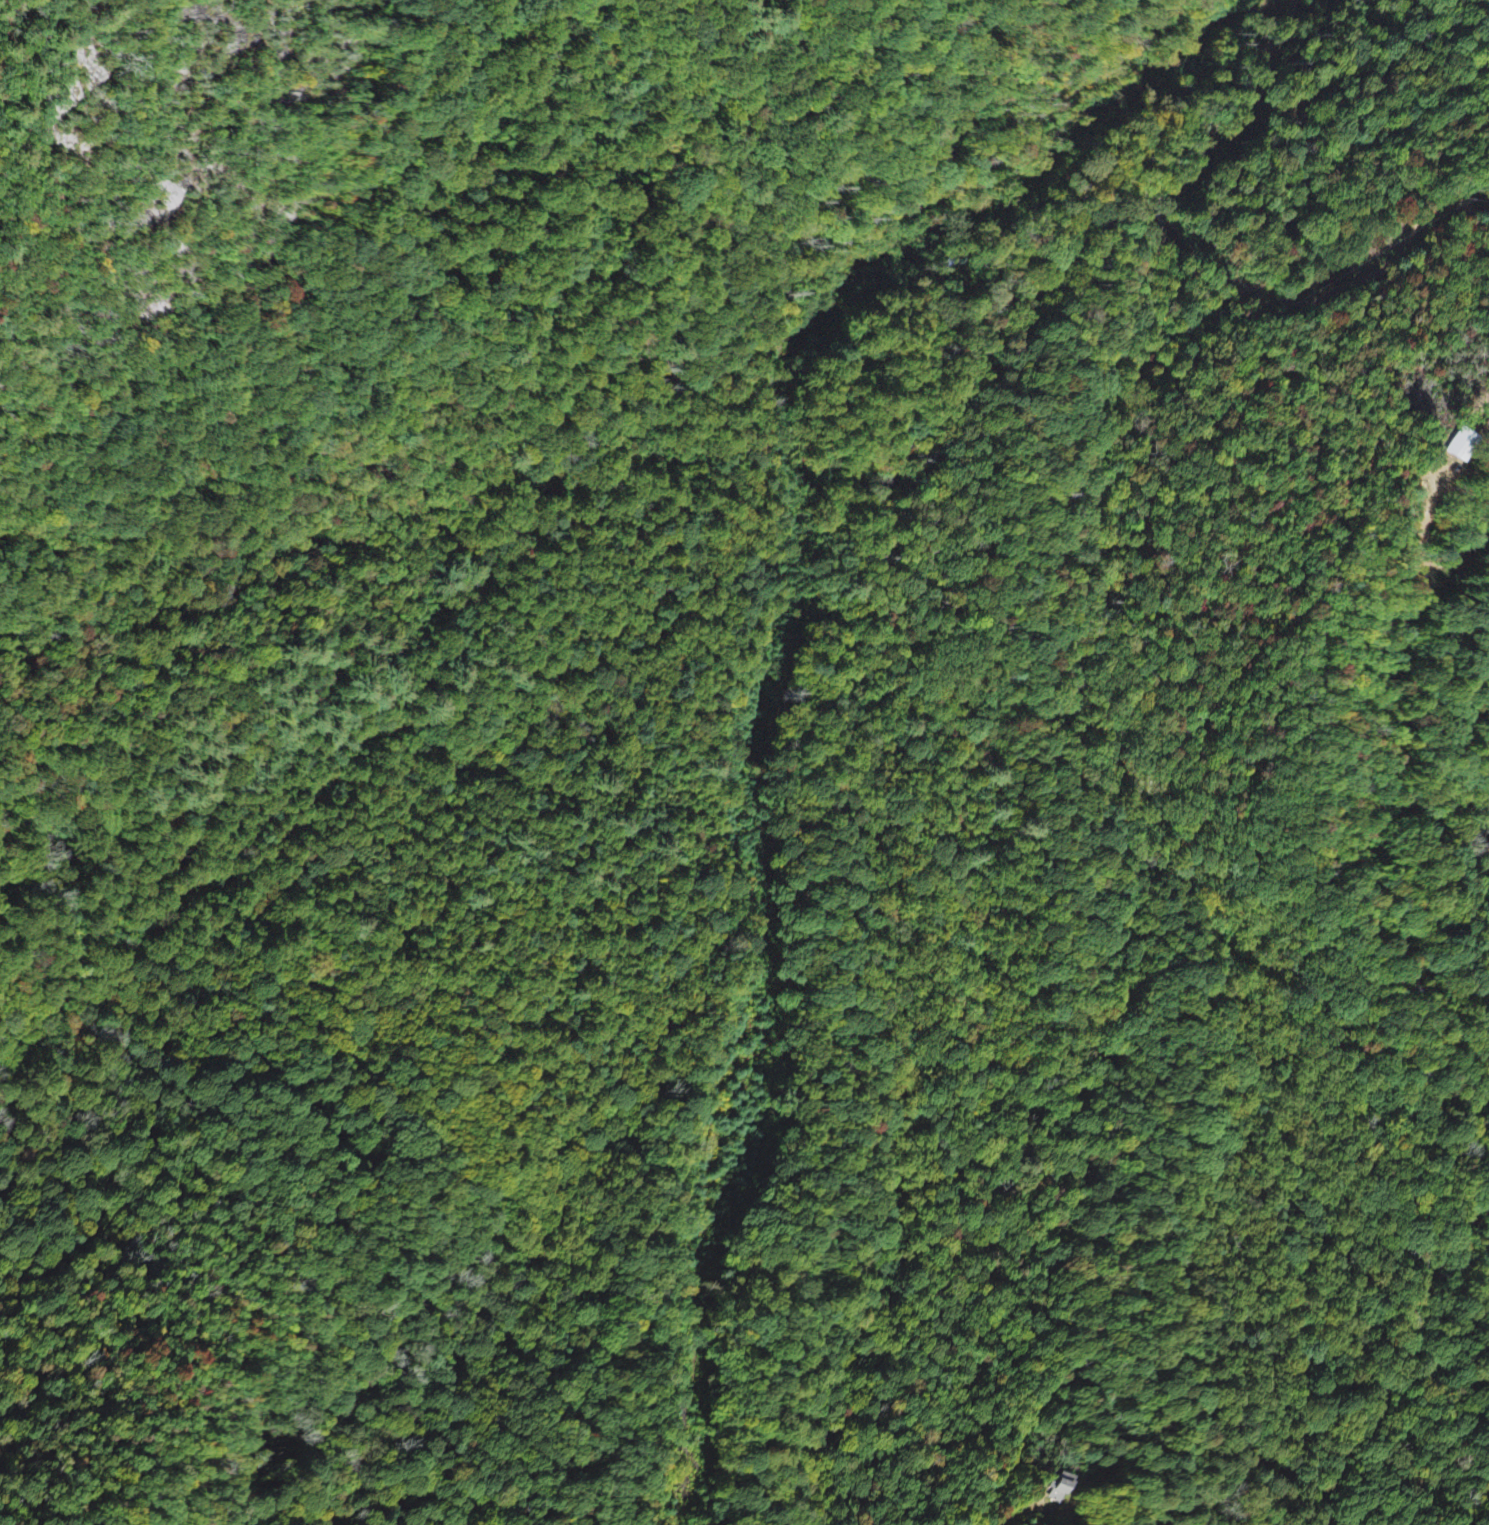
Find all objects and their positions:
building: (1458, 448)

